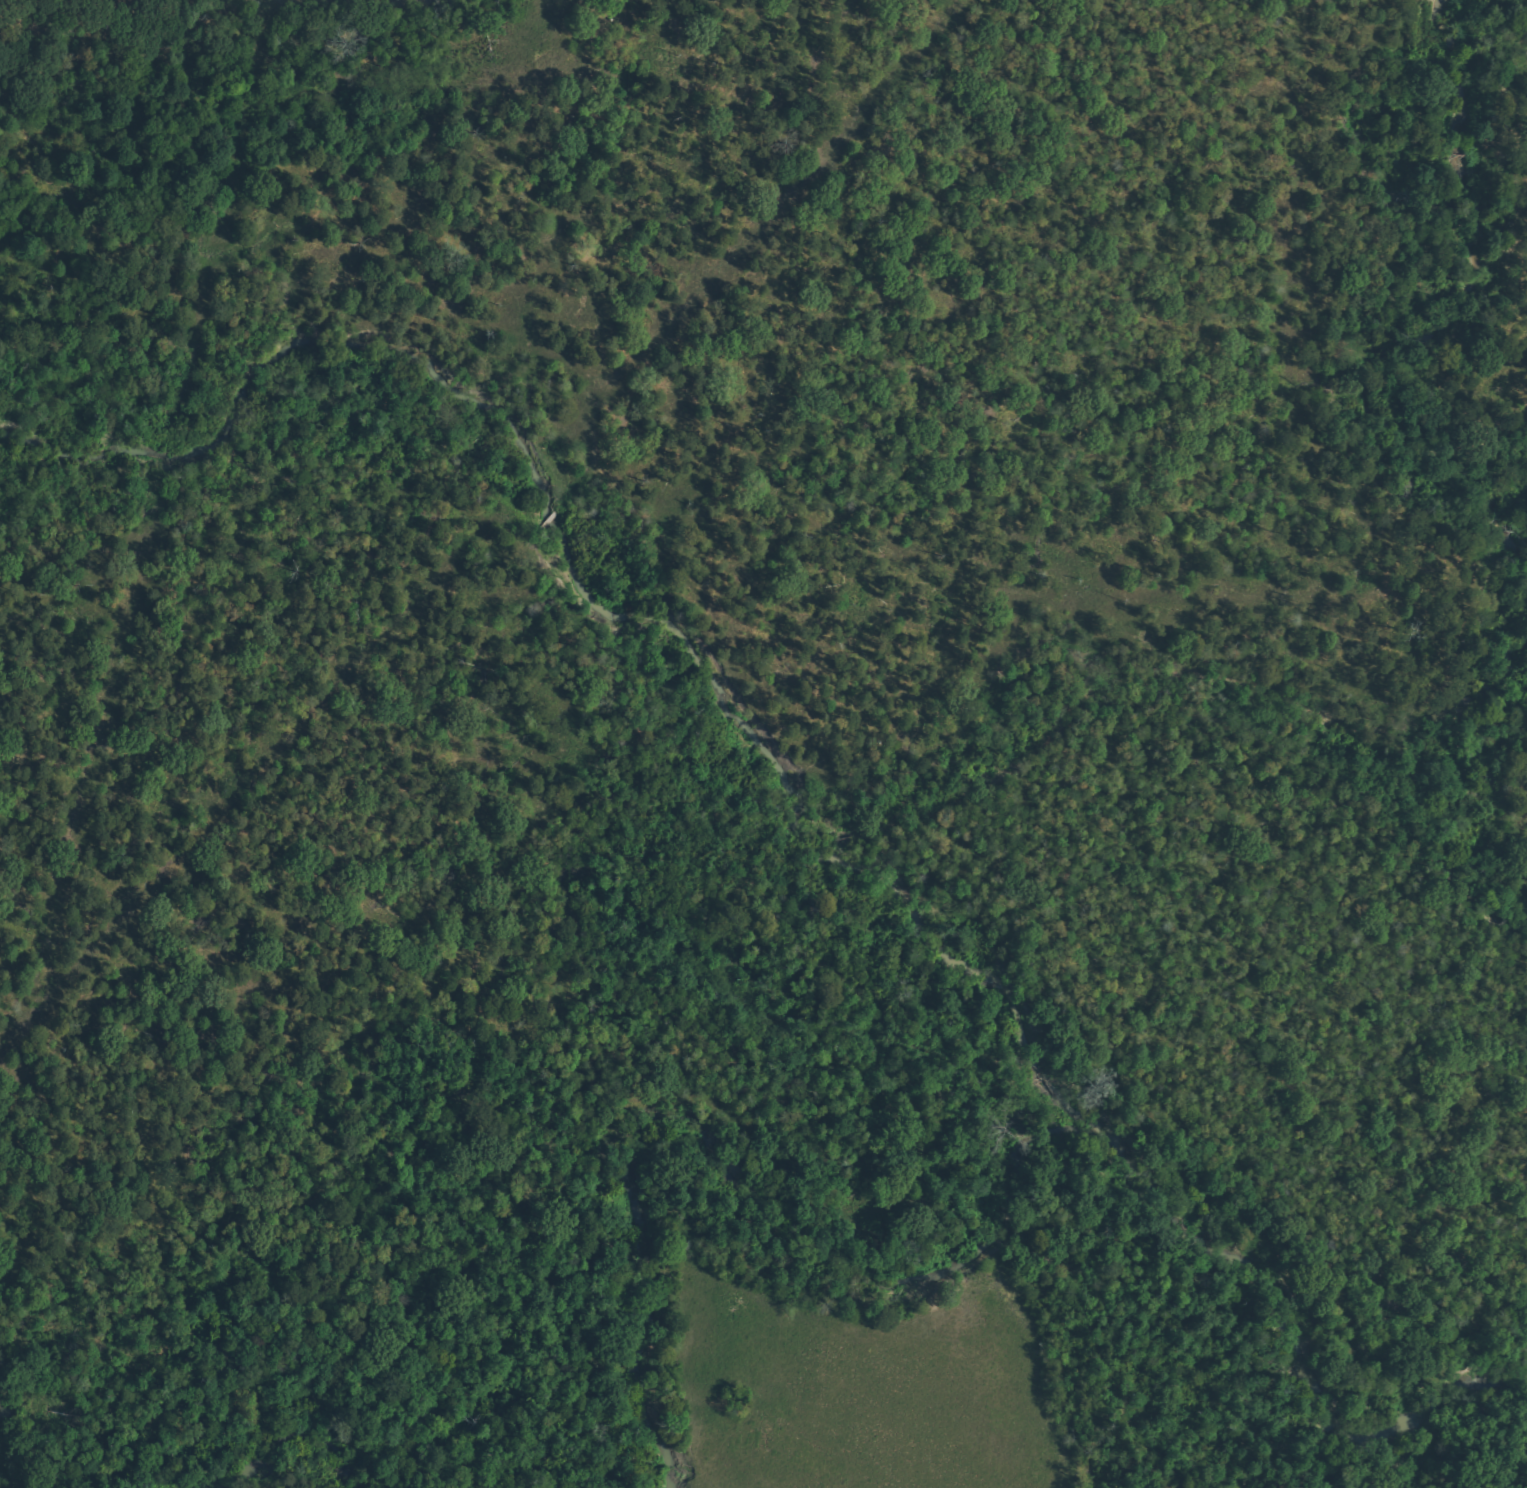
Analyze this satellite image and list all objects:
river: (987, 1245)
river: (15, 1407)
river: (305, 1439)

